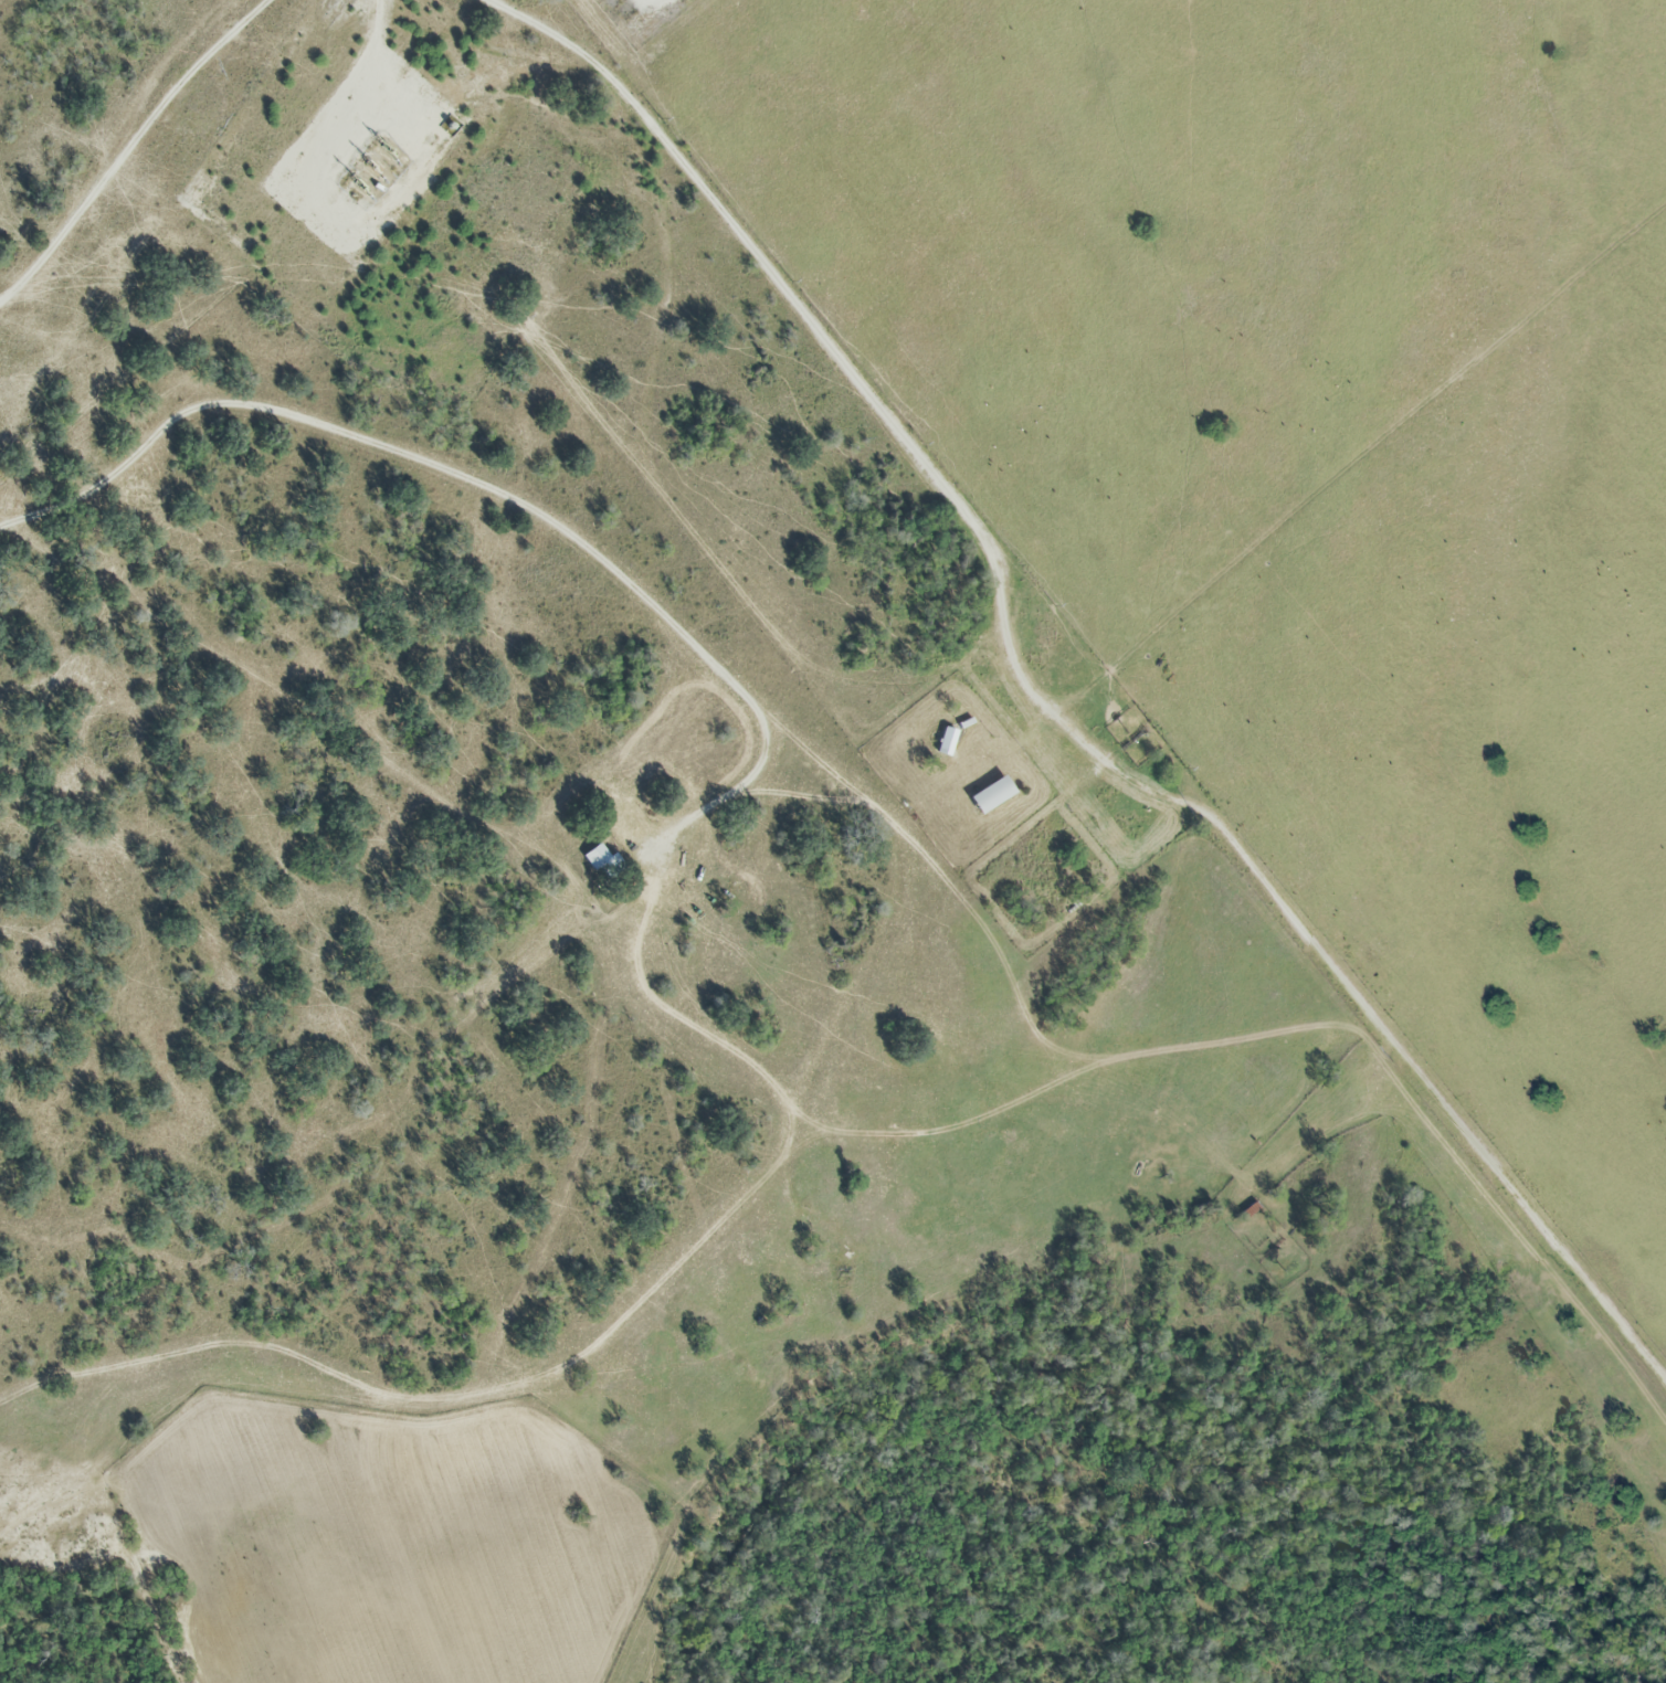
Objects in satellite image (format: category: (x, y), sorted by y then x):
road: (369, 103)
road: (126, 146)
road: (831, 351)
road: (139, 446)
road: (603, 563)
building: (945, 743)
building: (990, 796)
building: (602, 864)
road: (1399, 1040)
river: (900, 1393)
river: (1489, 1503)

